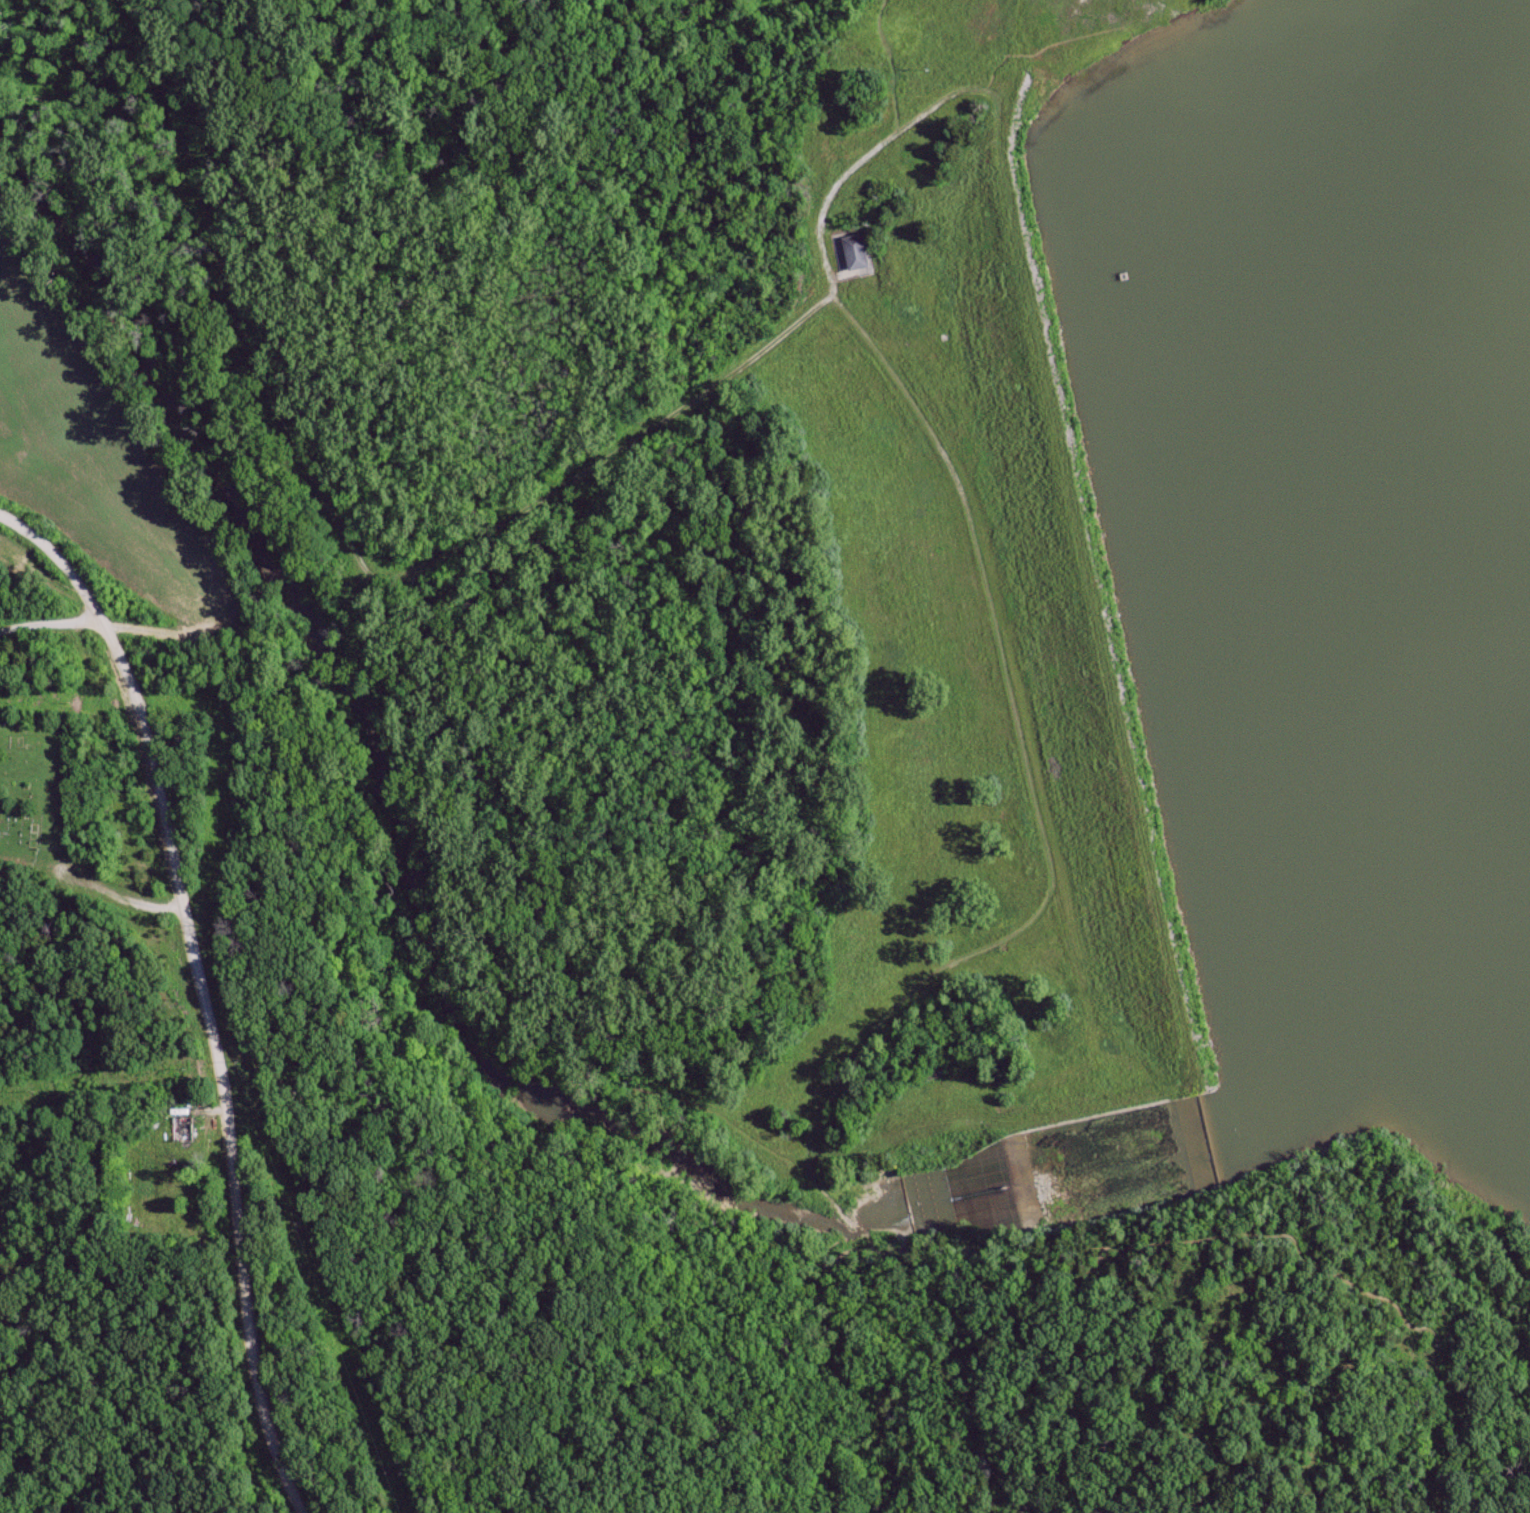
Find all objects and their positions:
building: (853, 252)
road: (347, 540)
road: (59, 562)
dam: (1096, 574)
road: (51, 625)
park: (36, 791)
river: (415, 865)
road: (1044, 922)
road: (215, 1066)
building: (185, 1130)
road: (1392, 1311)

